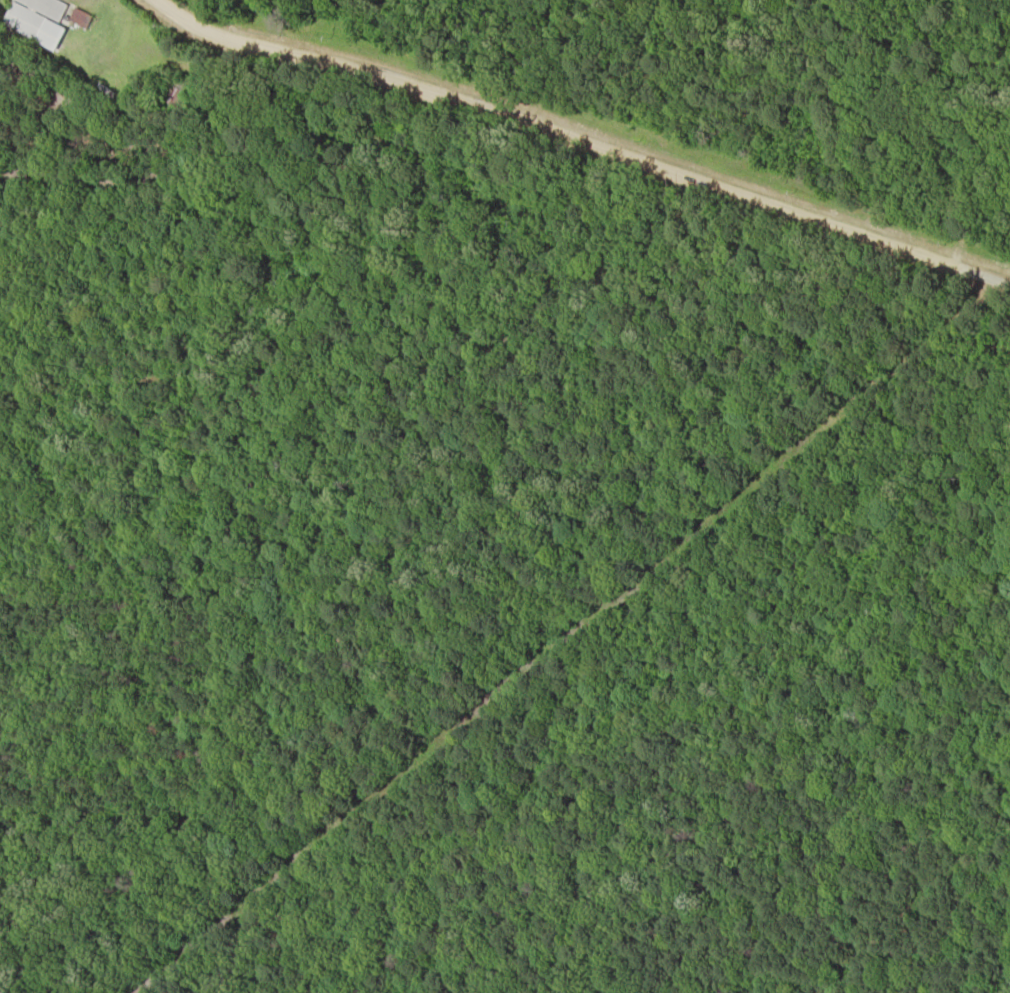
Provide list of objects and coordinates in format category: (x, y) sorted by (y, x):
building: (77, 16)
building: (35, 19)
road: (607, 136)

